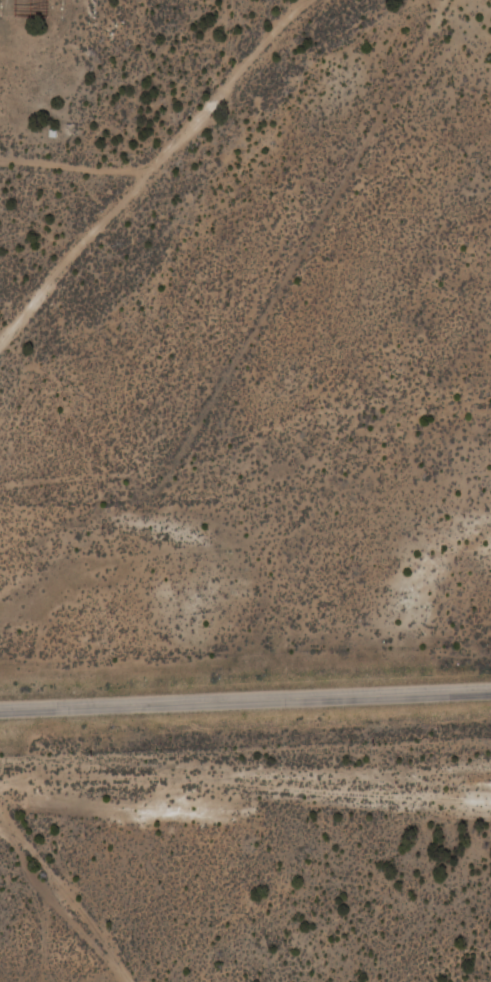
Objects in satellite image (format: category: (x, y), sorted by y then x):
road: (151, 165)
road: (74, 168)
road: (245, 694)
road: (56, 908)

